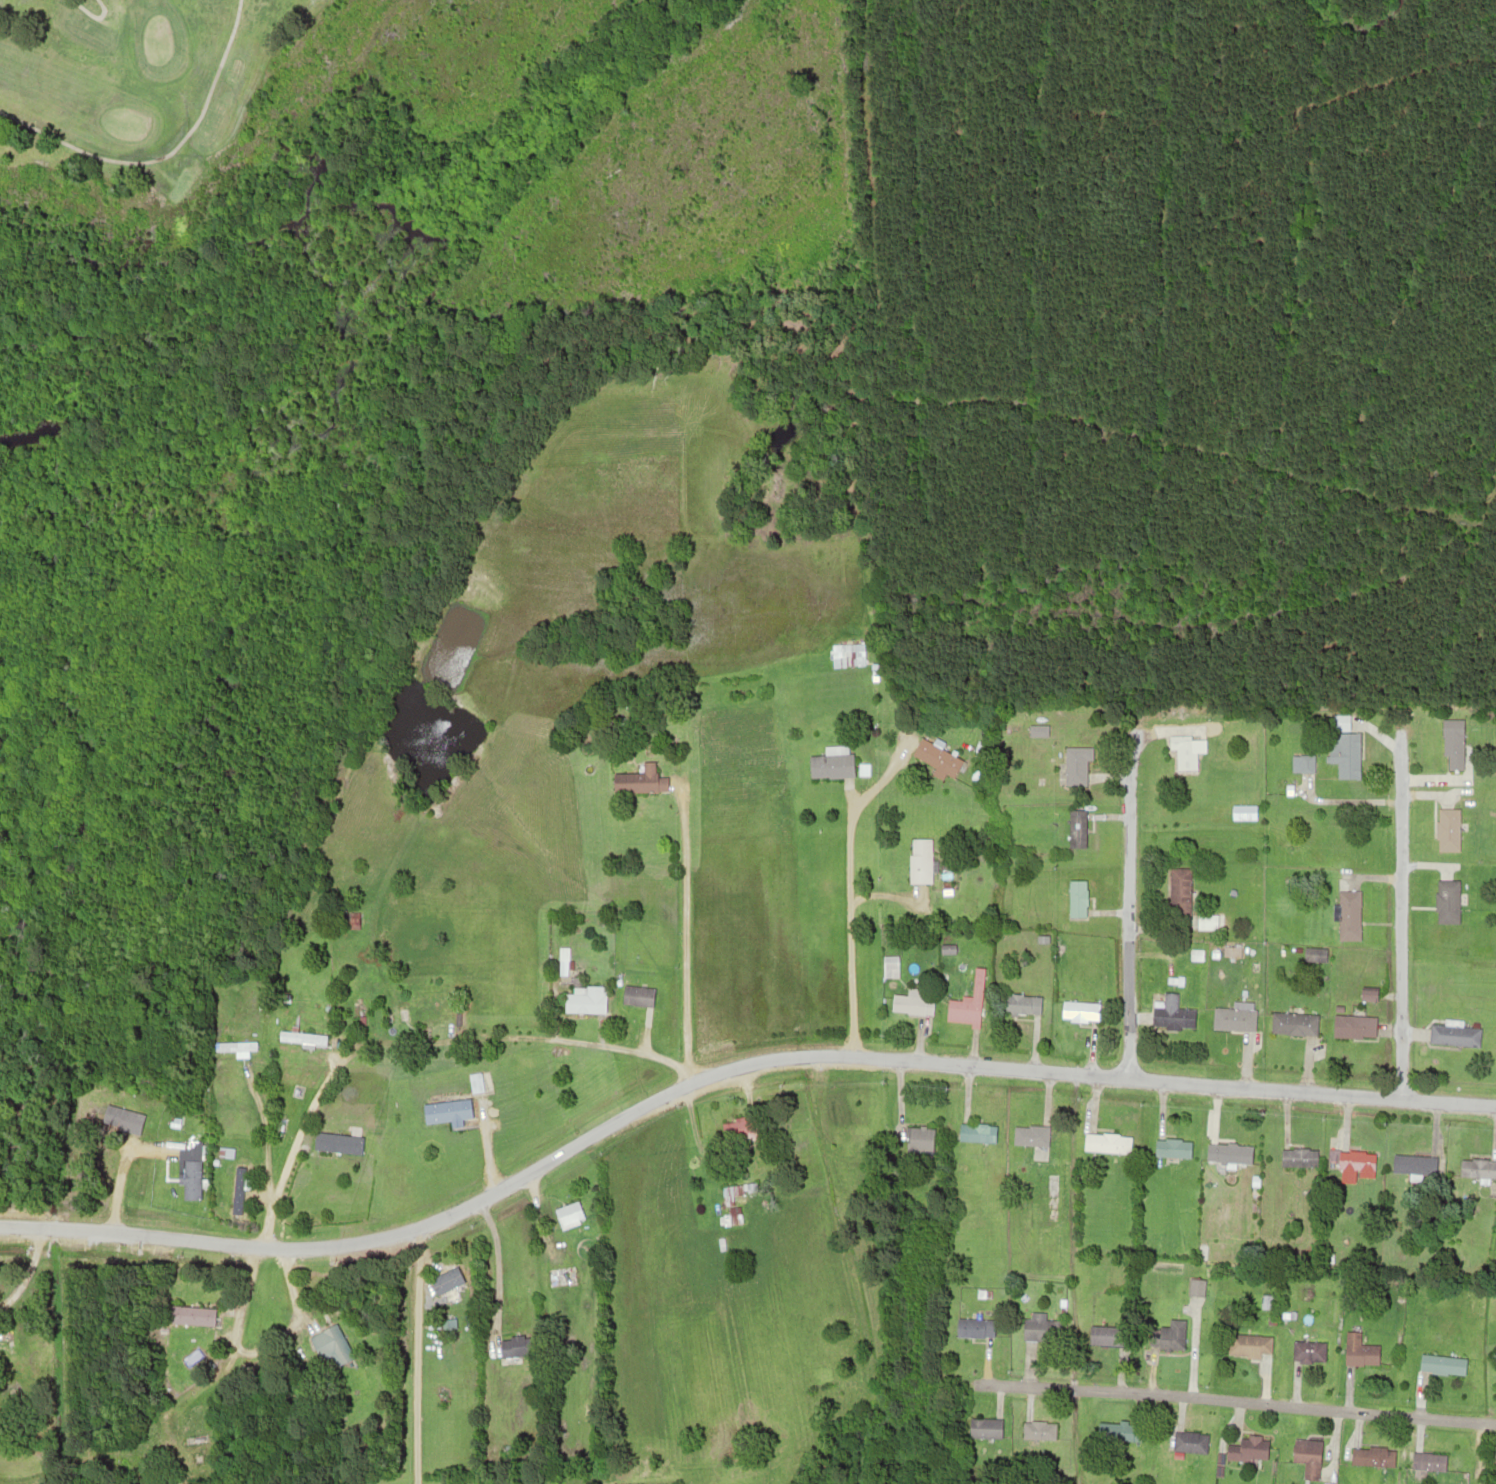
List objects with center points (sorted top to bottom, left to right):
park: (131, 81)
building: (845, 654)
building: (873, 671)
building: (1036, 731)
building: (1452, 745)
building: (834, 749)
building: (1187, 754)
building: (1347, 755)
building: (1306, 762)
building: (829, 765)
building: (1073, 766)
building: (861, 769)
building: (637, 781)
building: (1242, 812)
building: (1075, 828)
building: (1447, 829)
building: (919, 861)
building: (1252, 876)
building: (1178, 890)
building: (1075, 900)
building: (1446, 902)
road: (1125, 906)
road: (1398, 915)
building: (1348, 916)
building: (1207, 923)
road: (846, 927)
road: (681, 933)
building: (945, 948)
building: (1314, 953)
building: (1195, 954)
building: (562, 961)
building: (887, 966)
building: (940, 973)
building: (975, 983)
building: (1367, 993)
building: (635, 994)
building: (583, 1000)
building: (1019, 1003)
building: (911, 1005)
building: (1079, 1009)
building: (961, 1011)
building: (1172, 1017)
building: (1233, 1019)
building: (1293, 1023)
building: (1354, 1026)
building: (1452, 1035)
building: (299, 1037)
building: (232, 1045)
road: (623, 1049)
road: (339, 1057)
road: (1090, 1076)
building: (473, 1082)
building: (486, 1085)
building: (444, 1111)
building: (130, 1121)
building: (738, 1130)
building: (974, 1132)
building: (1028, 1137)
building: (919, 1140)
building: (335, 1143)
building: (1105, 1144)
building: (1171, 1149)
building: (223, 1152)
building: (1227, 1154)
building: (1297, 1158)
building: (1349, 1162)
building: (1411, 1164)
building: (1476, 1170)
building: (188, 1179)
building: (227, 1197)
building: (729, 1206)
building: (567, 1214)
road: (363, 1241)
building: (449, 1278)
building: (1194, 1286)
building: (188, 1317)
building: (973, 1328)
building: (1041, 1330)
building: (1107, 1337)
building: (1164, 1338)
building: (1249, 1343)
building: (328, 1348)
building: (514, 1348)
building: (1305, 1351)
building: (1359, 1354)
building: (1440, 1364)
road: (1230, 1403)
building: (983, 1428)
building: (1036, 1431)
building: (1117, 1432)
building: (1189, 1442)
building: (1251, 1448)
building: (1304, 1451)
building: (195, 1452)
building: (1371, 1457)
building: (1427, 1461)

